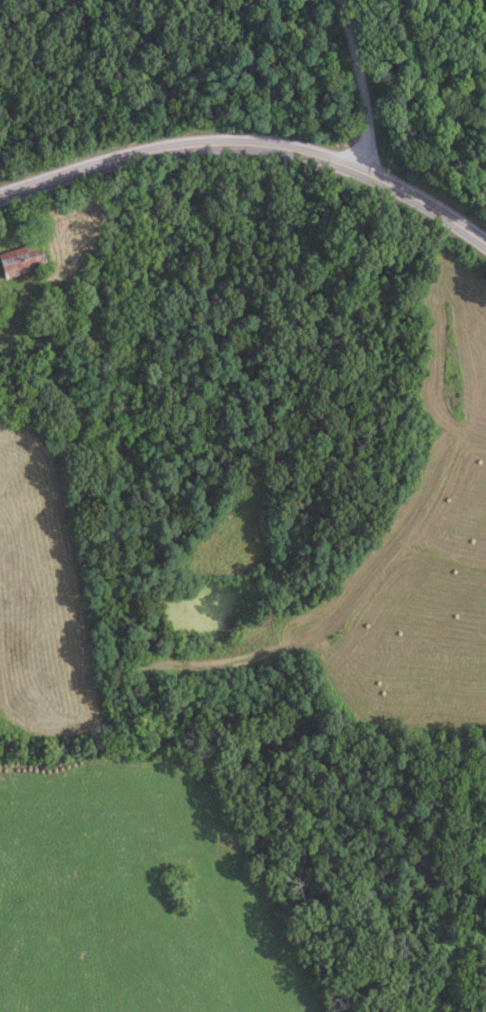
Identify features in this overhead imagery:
road: (359, 84)
road: (251, 144)
building: (111, 199)
building: (22, 264)

